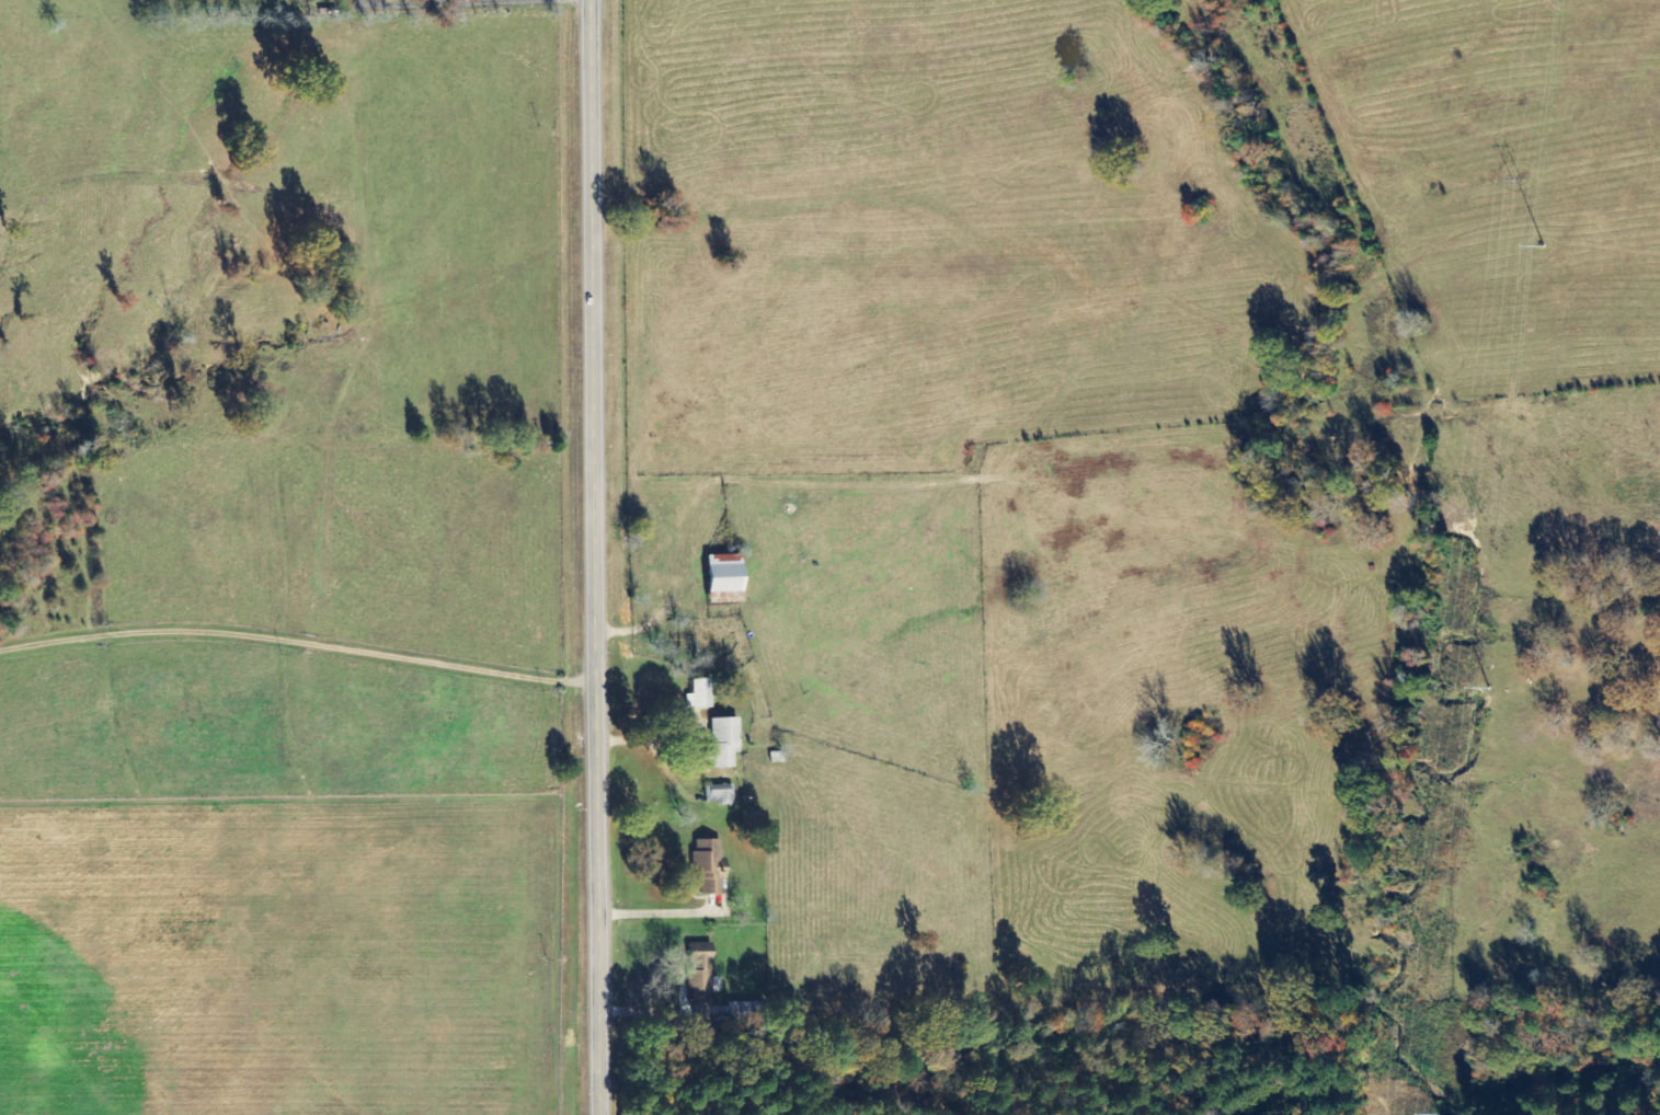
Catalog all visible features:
road: (589, 557)
building: (718, 574)
building: (697, 694)
building: (720, 743)
building: (717, 794)
building: (705, 867)
building: (696, 974)

